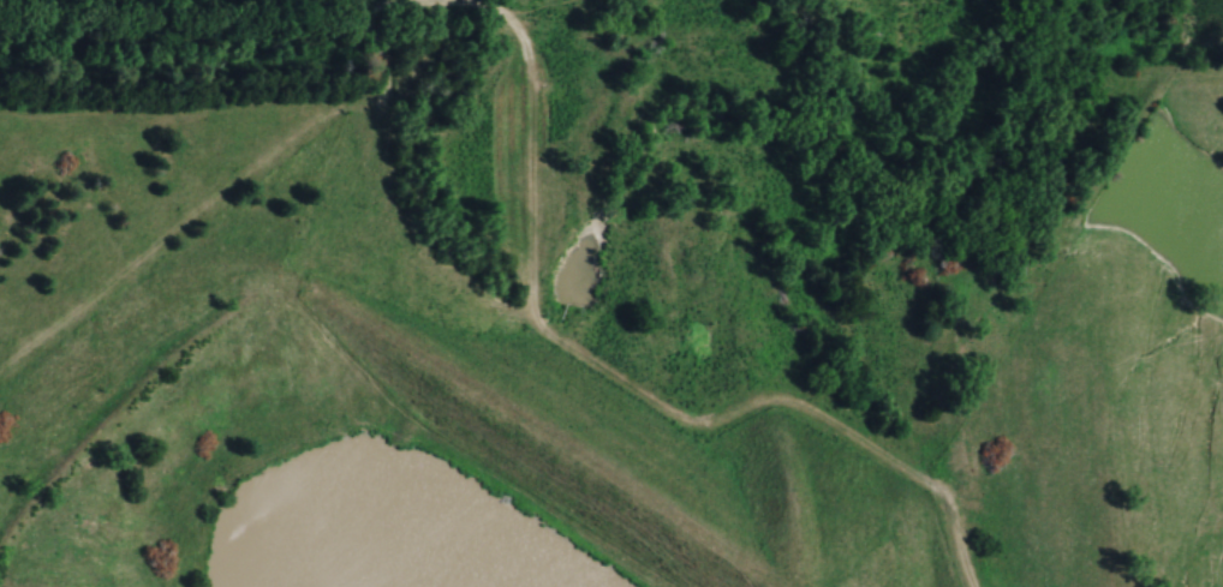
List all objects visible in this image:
river: (817, 142)
dam: (370, 330)
river: (532, 403)
river: (478, 545)

